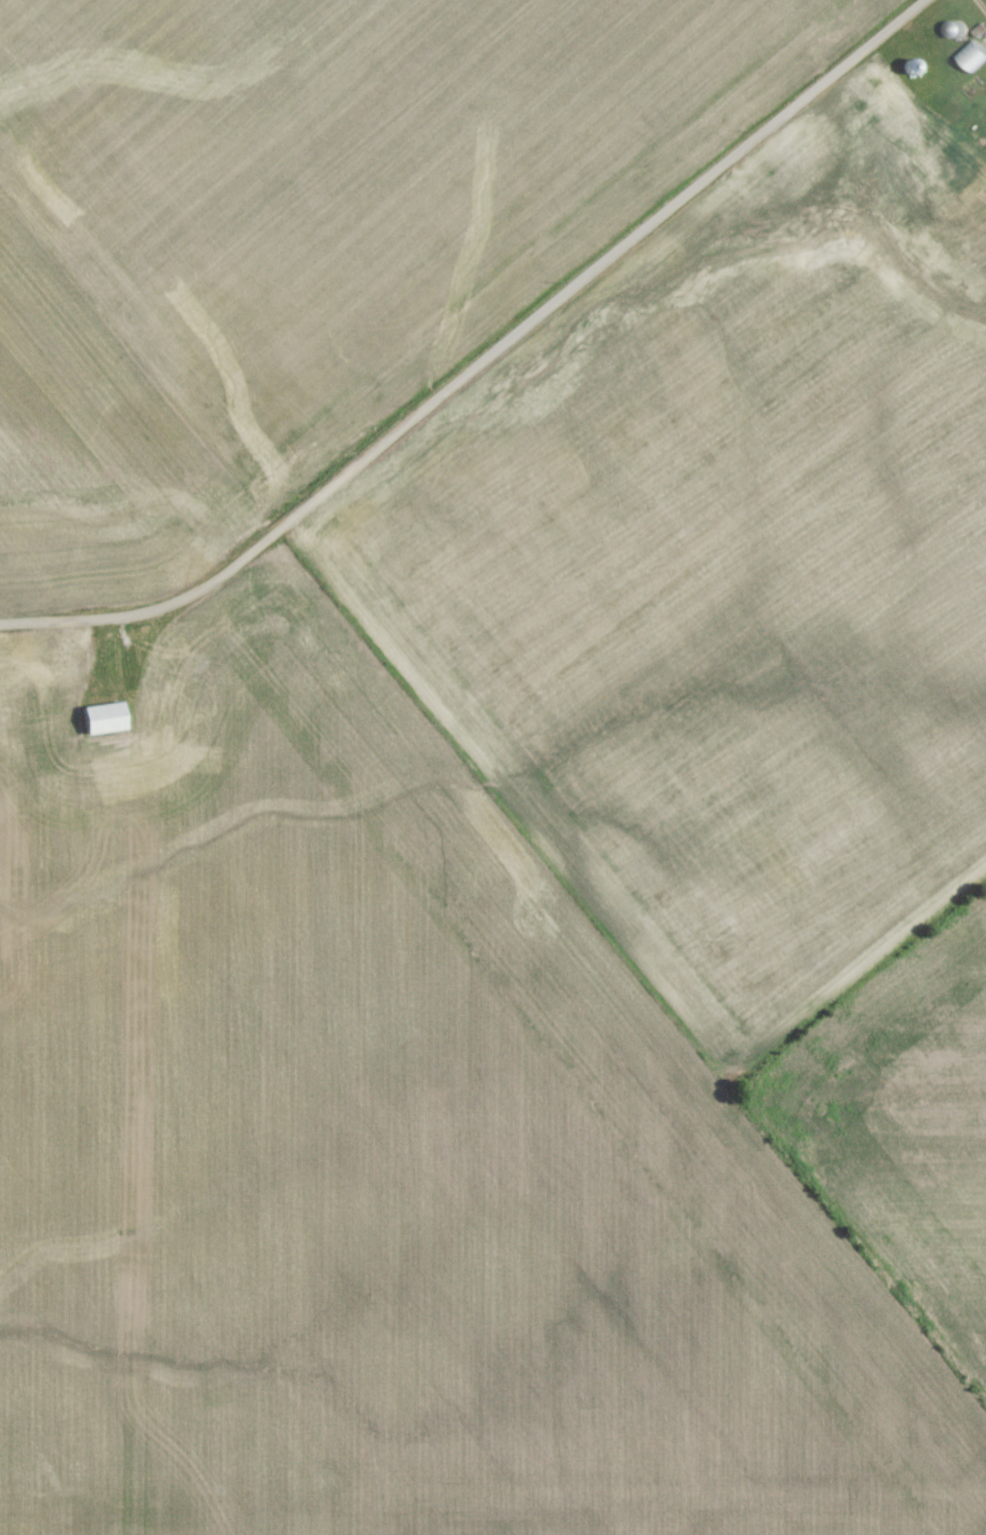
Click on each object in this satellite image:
road: (982, 5)
building: (973, 61)
building: (972, 92)
building: (931, 173)
road: (490, 362)
building: (179, 645)
building: (45, 669)
building: (336, 676)
building: (70, 679)
building: (162, 720)
building: (105, 723)
building: (0, 749)
building: (12, 761)

